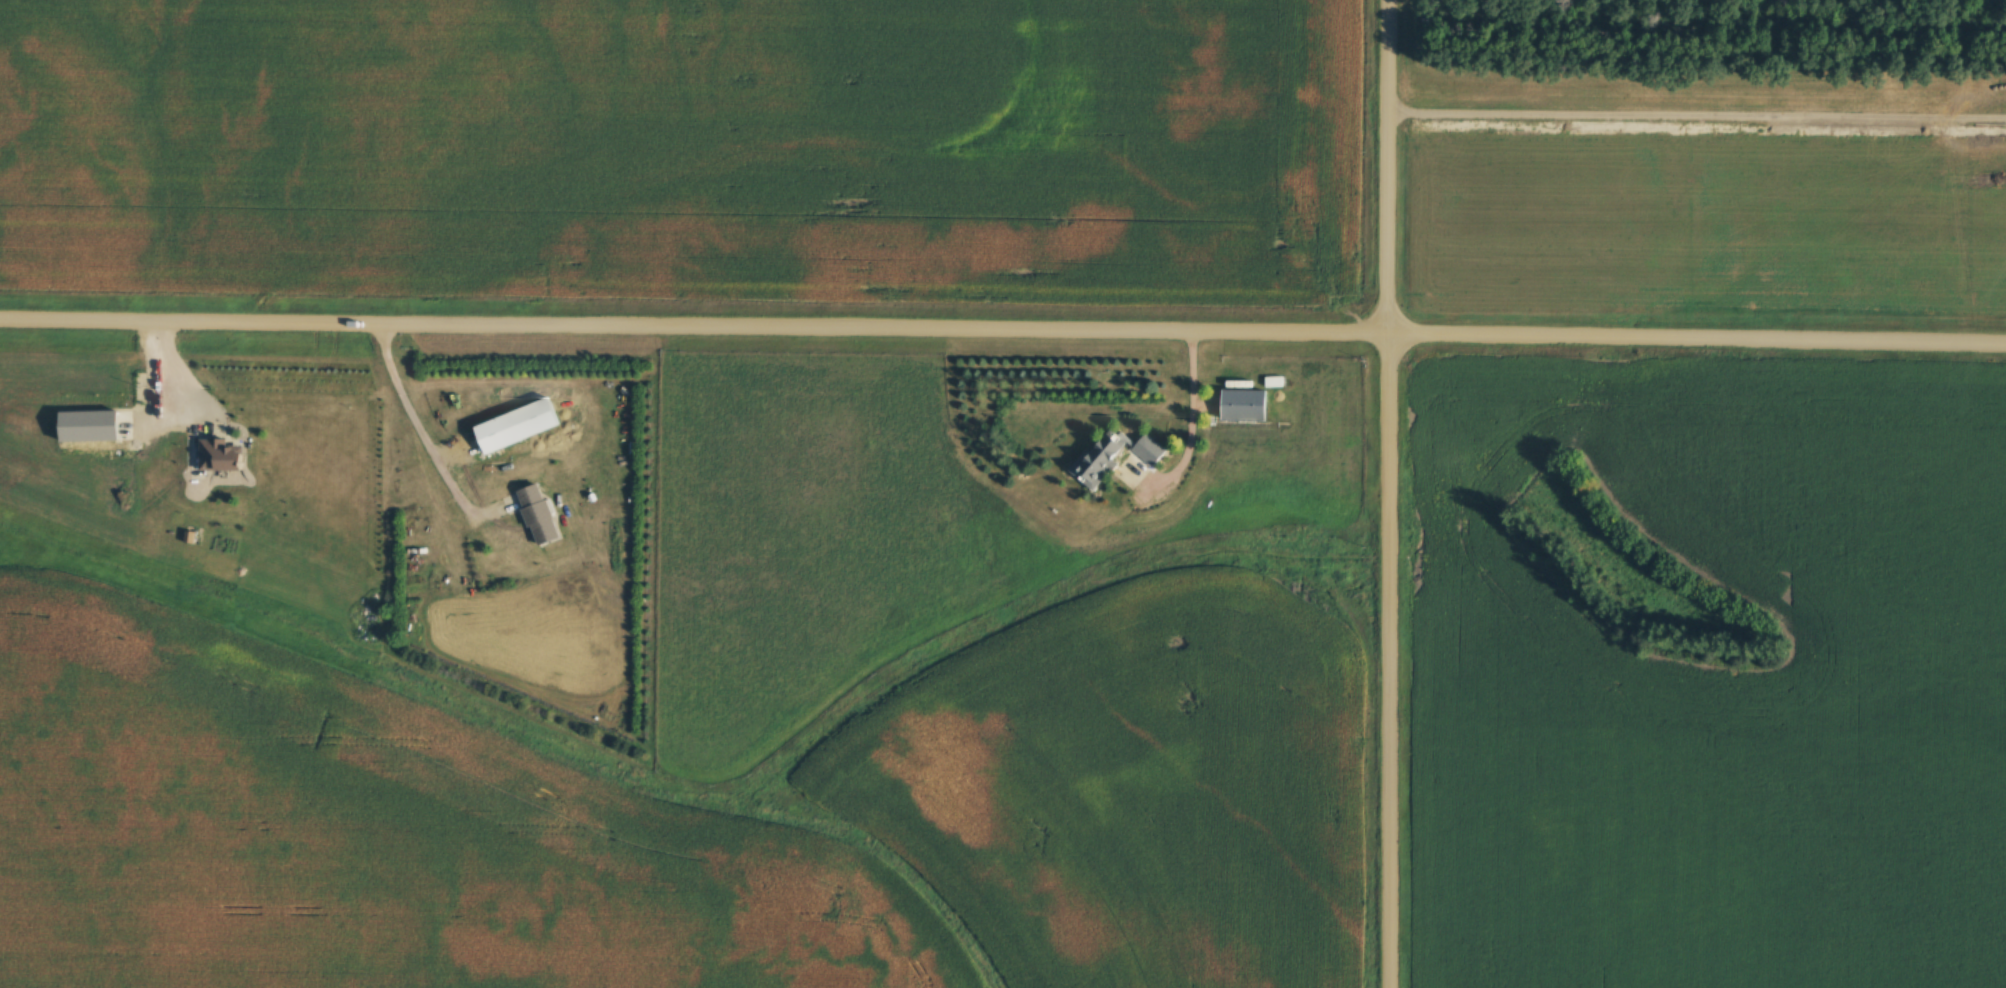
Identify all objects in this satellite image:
road: (1003, 326)
road: (180, 372)
road: (1196, 426)
building: (500, 434)
road: (422, 437)
building: (1152, 450)
building: (223, 454)
building: (1103, 457)
road: (1385, 494)
building: (541, 515)

